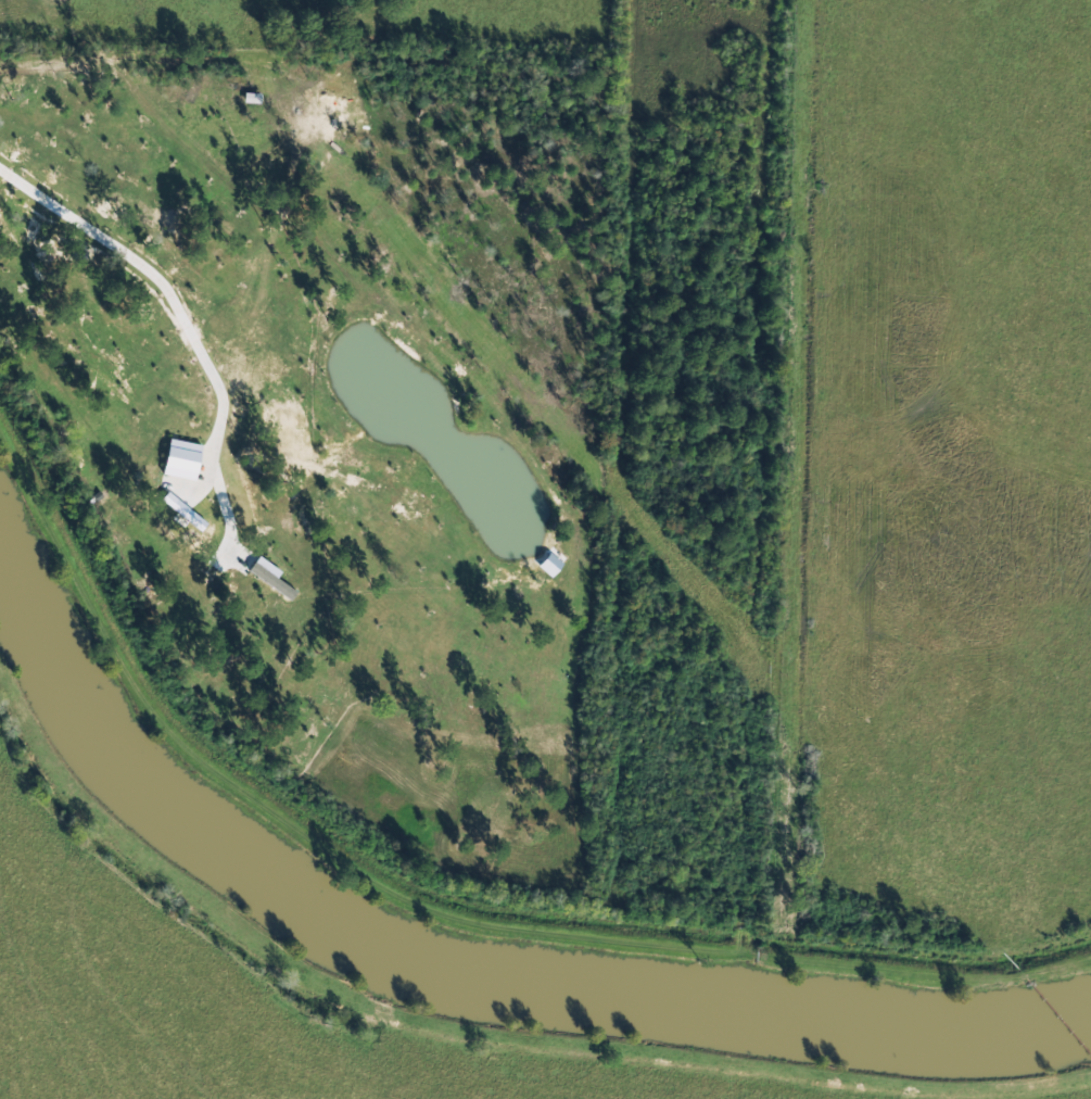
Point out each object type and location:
building: (181, 459)
building: (162, 497)

